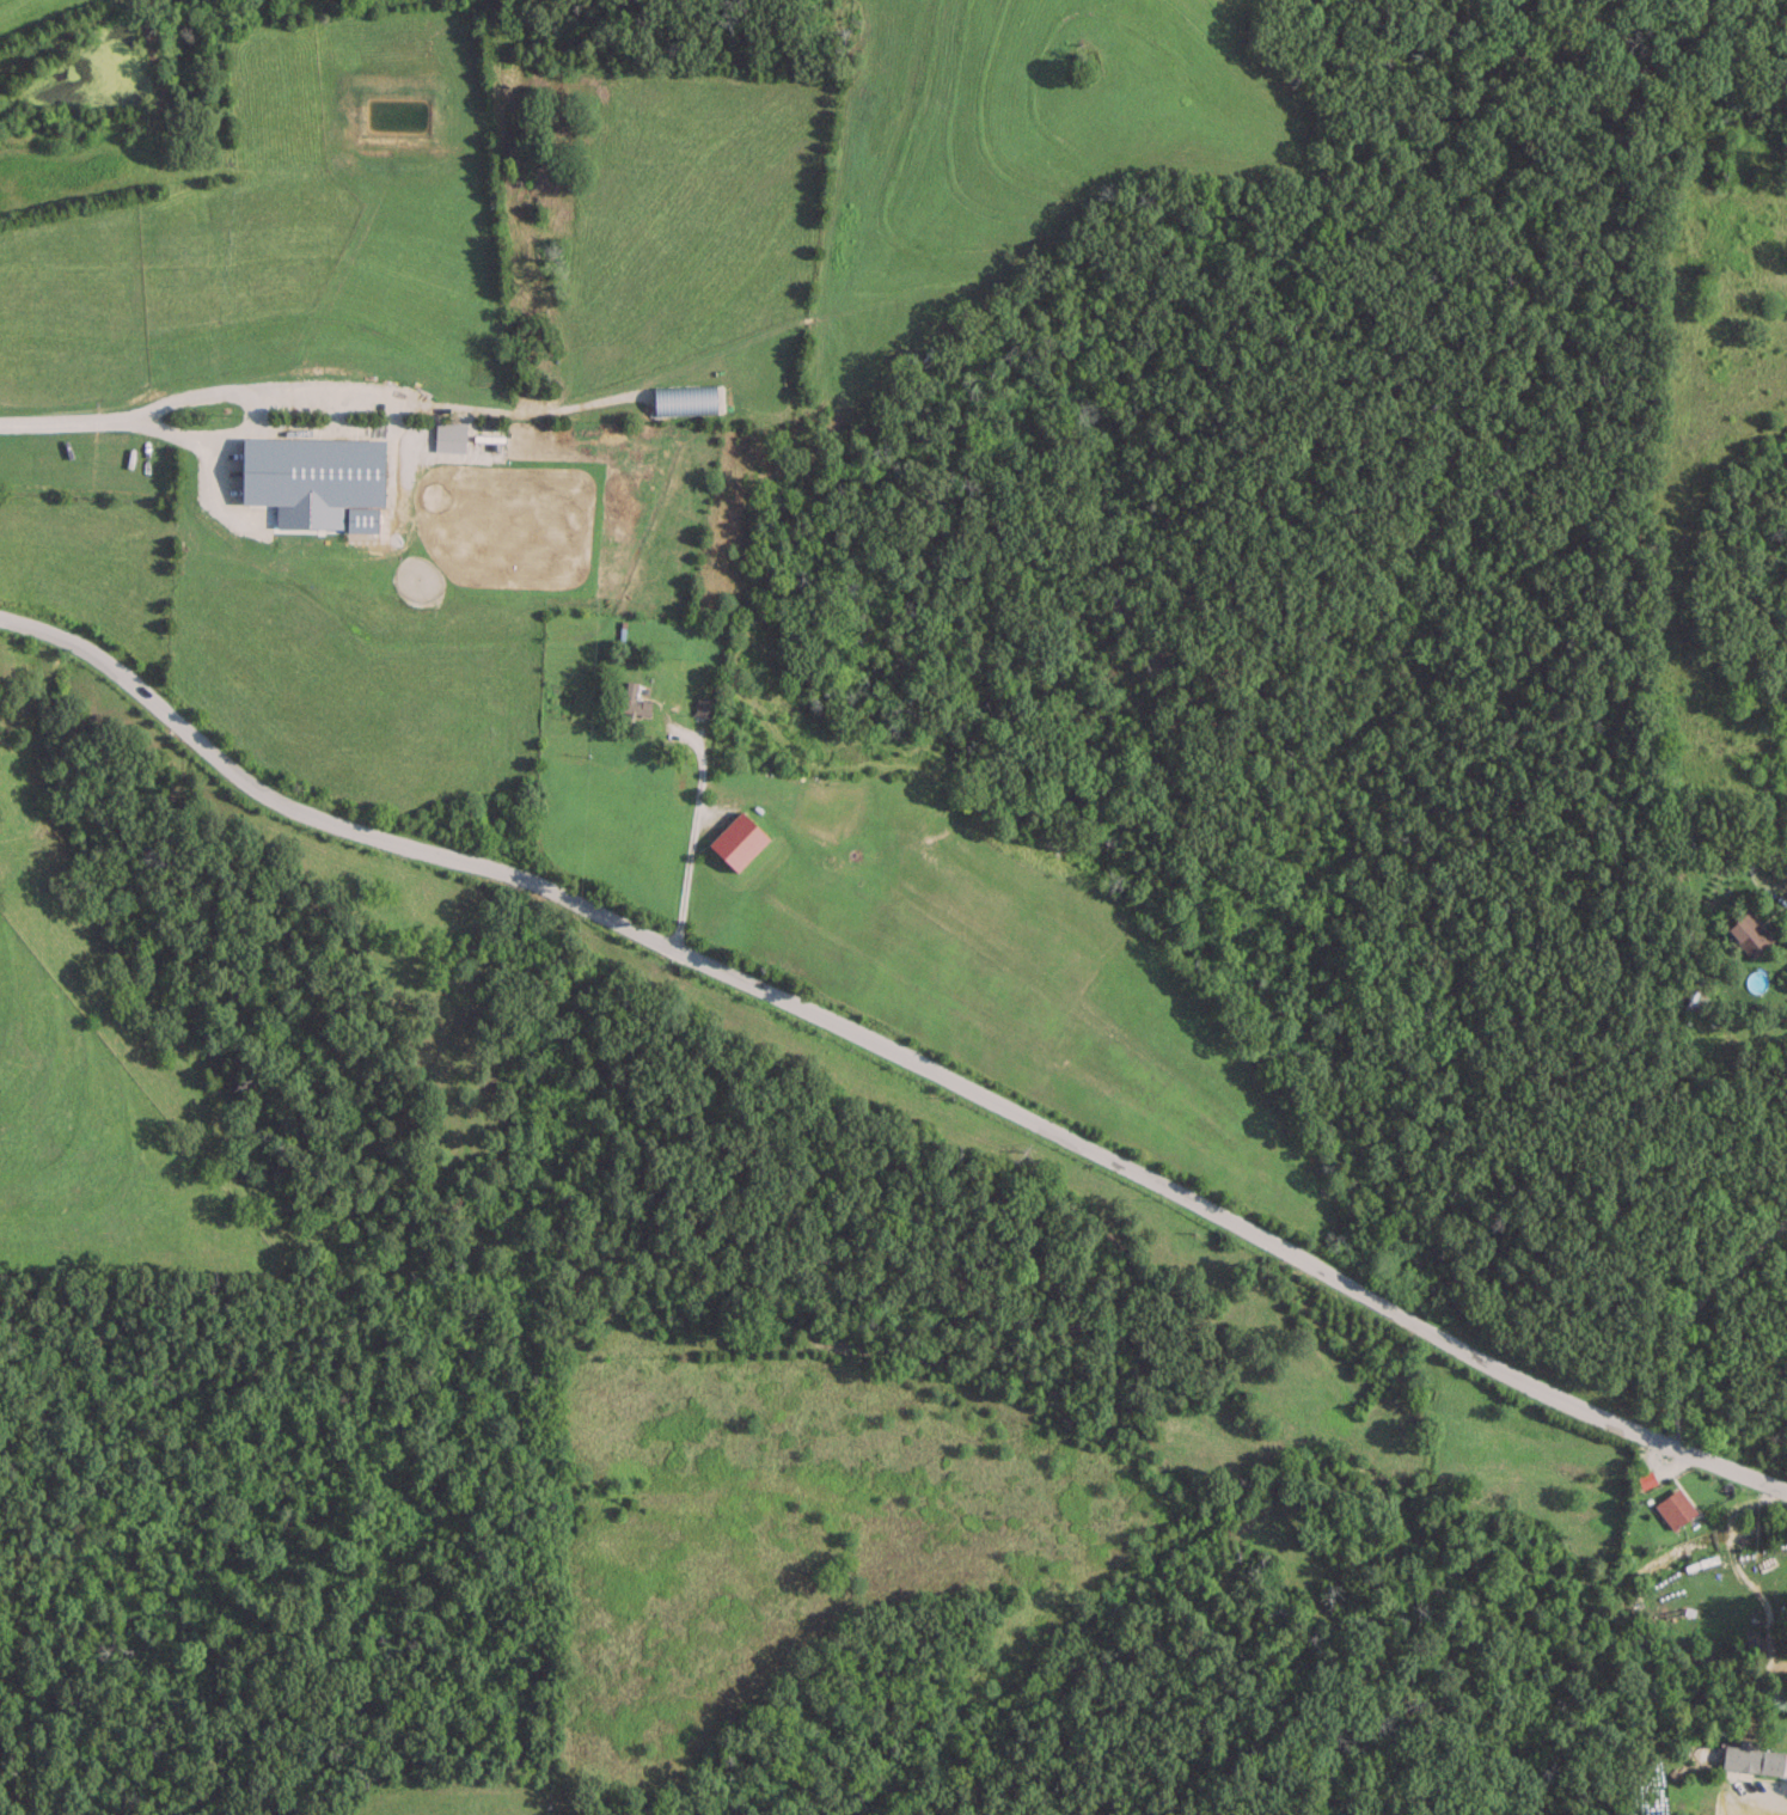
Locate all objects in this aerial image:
road: (253, 408)
road: (442, 409)
road: (67, 421)
building: (635, 703)
building: (703, 705)
road: (693, 831)
building: (739, 837)
road: (1781, 891)
building: (1750, 931)
building: (1691, 1006)
road: (889, 1047)
road: (1685, 1312)
building: (1752, 1758)

